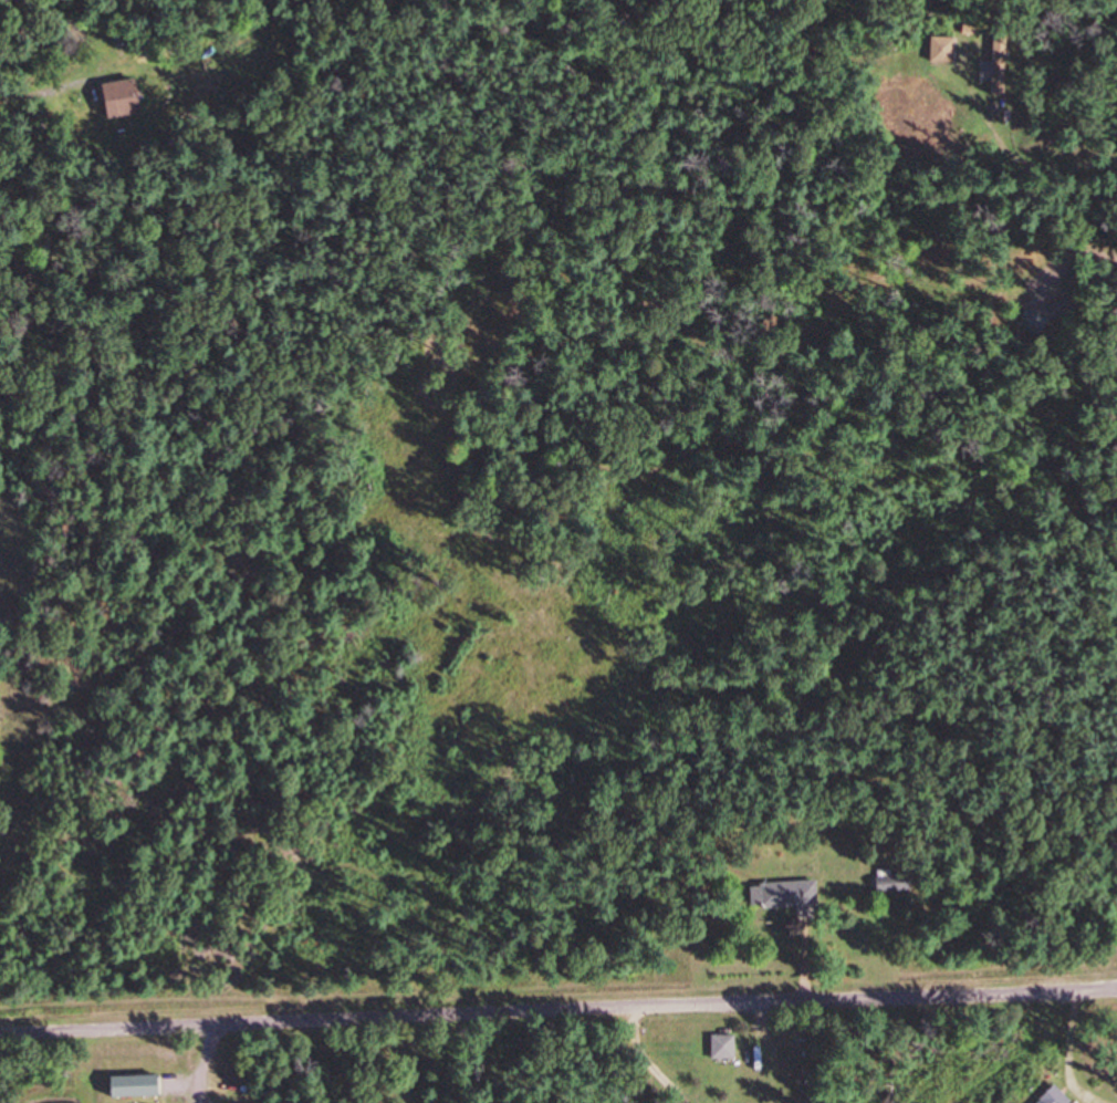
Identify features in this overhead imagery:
building: (988, 53)
building: (896, 884)
building: (787, 895)
road: (557, 1008)
building: (725, 1045)
road: (377, 1060)
building: (1056, 1096)

